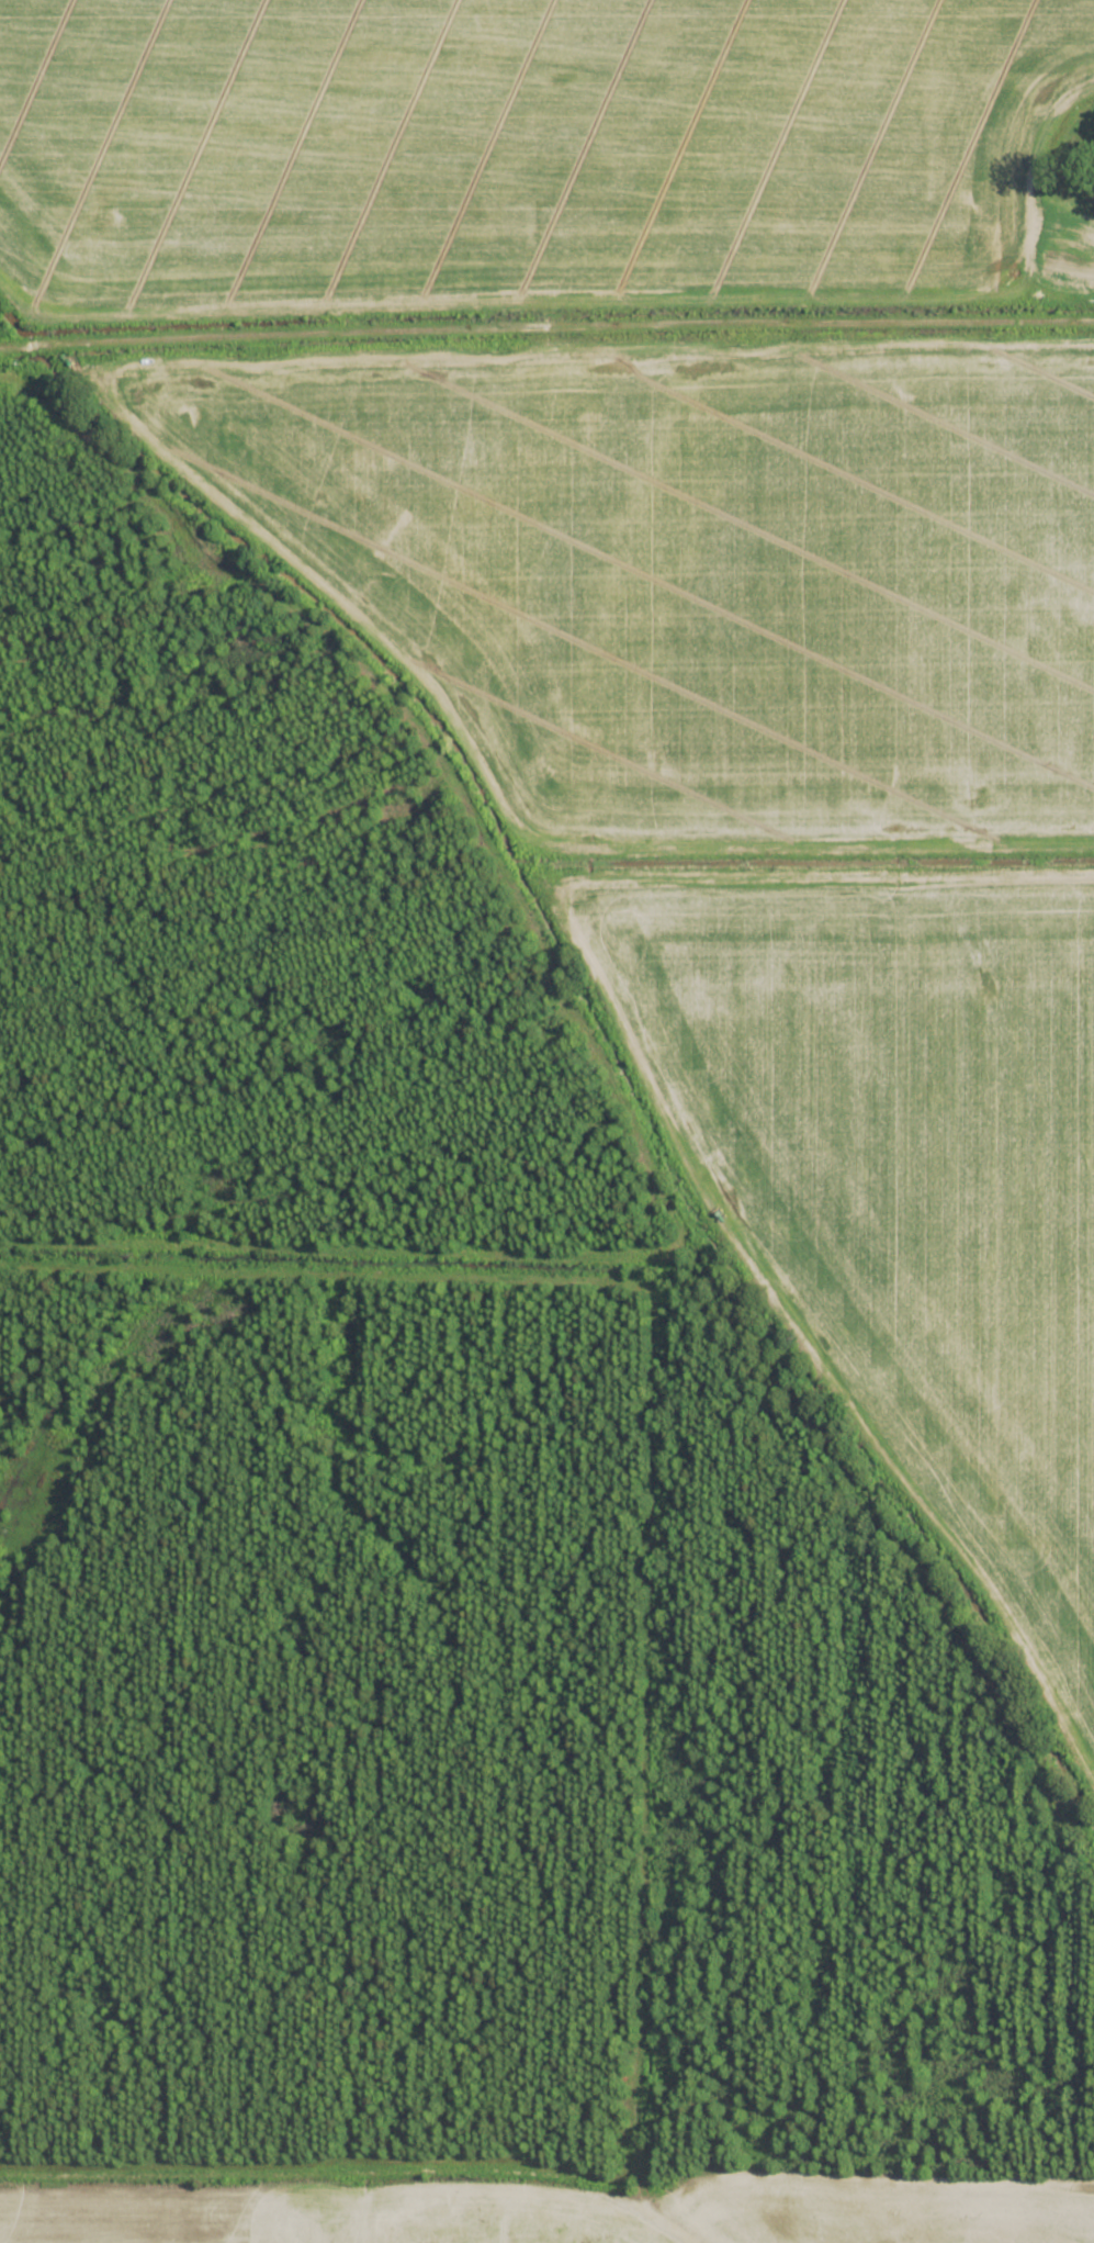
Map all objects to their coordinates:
road: (546, 327)
road: (348, 2180)

